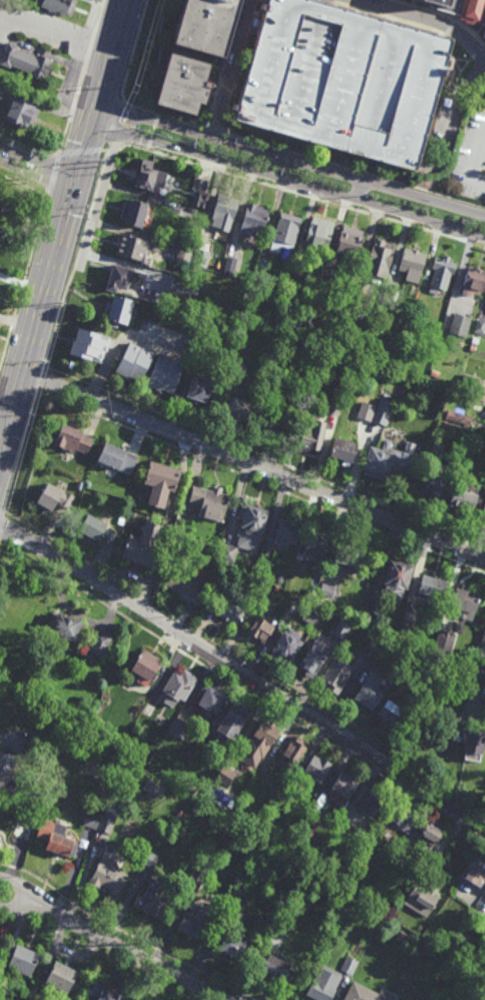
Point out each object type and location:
road: (265, 1)
road: (324, 1)
building: (59, 6)
building: (460, 8)
road: (99, 15)
road: (443, 15)
road: (420, 19)
building: (207, 25)
road: (450, 27)
building: (484, 32)
road: (54, 35)
road: (160, 35)
road: (91, 42)
road: (477, 53)
road: (192, 54)
road: (451, 54)
building: (26, 61)
road: (225, 64)
road: (128, 67)
road: (234, 69)
building: (344, 79)
parking garage: (344, 79)
road: (452, 79)
road: (458, 79)
power tower: (133, 81)
building: (184, 84)
road: (74, 103)
building: (22, 110)
road: (453, 119)
road: (156, 121)
road: (181, 121)
road: (215, 130)
road: (104, 131)
road: (152, 133)
road: (149, 145)
road: (30, 148)
road: (84, 150)
road: (114, 150)
road: (476, 157)
road: (289, 160)
road: (36, 168)
power tower: (99, 168)
road: (355, 171)
building: (144, 173)
road: (54, 174)
traffic signals: (73, 183)
road: (24, 185)
road: (302, 187)
road: (102, 192)
road: (359, 192)
road: (301, 194)
building: (0, 198)
building: (201, 199)
building: (0, 202)
road: (69, 203)
building: (135, 211)
building: (226, 211)
building: (255, 218)
road: (61, 220)
building: (285, 232)
building: (317, 234)
building: (348, 241)
building: (134, 246)
building: (202, 252)
building: (185, 253)
building: (380, 254)
road: (76, 260)
building: (412, 260)
building: (230, 264)
road: (77, 270)
building: (442, 273)
building: (293, 274)
building: (475, 278)
building: (124, 279)
road: (24, 281)
building: (180, 287)
building: (388, 299)
power tower: (64, 307)
building: (121, 310)
building: (459, 324)
building: (480, 326)
building: (475, 340)
building: (90, 345)
building: (472, 348)
building: (196, 358)
building: (135, 362)
building: (238, 371)
building: (435, 373)
building: (166, 374)
building: (388, 377)
road: (41, 381)
building: (470, 382)
building: (202, 390)
building: (300, 395)
building: (333, 405)
building: (239, 409)
road: (4, 410)
building: (383, 411)
building: (367, 412)
building: (453, 416)
power tower: (31, 419)
building: (276, 421)
building: (311, 439)
building: (74, 440)
building: (343, 451)
building: (437, 451)
building: (119, 458)
building: (389, 459)
road: (252, 464)
building: (162, 483)
building: (438, 485)
building: (54, 499)
building: (467, 499)
building: (211, 502)
building: (483, 514)
building: (484, 523)
building: (253, 524)
building: (120, 527)
building: (97, 530)
building: (288, 530)
building: (144, 544)
building: (317, 544)
building: (229, 550)
road: (77, 554)
building: (347, 556)
building: (397, 573)
building: (187, 582)
building: (432, 585)
building: (326, 589)
building: (221, 596)
building: (465, 597)
building: (235, 604)
road: (147, 614)
building: (311, 614)
building: (370, 619)
building: (406, 624)
building: (260, 626)
building: (65, 627)
building: (341, 627)
building: (447, 638)
building: (482, 639)
building: (101, 642)
building: (286, 642)
building: (313, 654)
building: (484, 659)
building: (147, 664)
road: (243, 673)
building: (336, 673)
building: (481, 674)
building: (179, 685)
building: (369, 689)
road: (243, 691)
building: (213, 697)
building: (412, 702)
building: (390, 708)
building: (235, 717)
building: (183, 722)
building: (265, 731)
building: (474, 739)
building: (42, 753)
building: (291, 753)
building: (317, 767)
building: (7, 772)
building: (224, 776)
building: (342, 785)
building: (155, 788)
building: (191, 789)
building: (370, 800)
building: (236, 813)
building: (402, 817)
building: (108, 819)
building: (91, 820)
building: (311, 826)
building: (430, 833)
building: (61, 844)
building: (19, 850)
building: (150, 859)
building: (476, 869)
building: (200, 872)
building: (109, 876)
road: (21, 887)
building: (421, 899)
building: (153, 900)
building: (235, 902)
road: (19, 906)
building: (197, 922)
building: (401, 936)
building: (236, 947)
road: (133, 953)
building: (23, 960)
building: (349, 966)
building: (277, 968)
building: (64, 977)
building: (319, 990)
building: (103, 992)
building: (365, 993)

